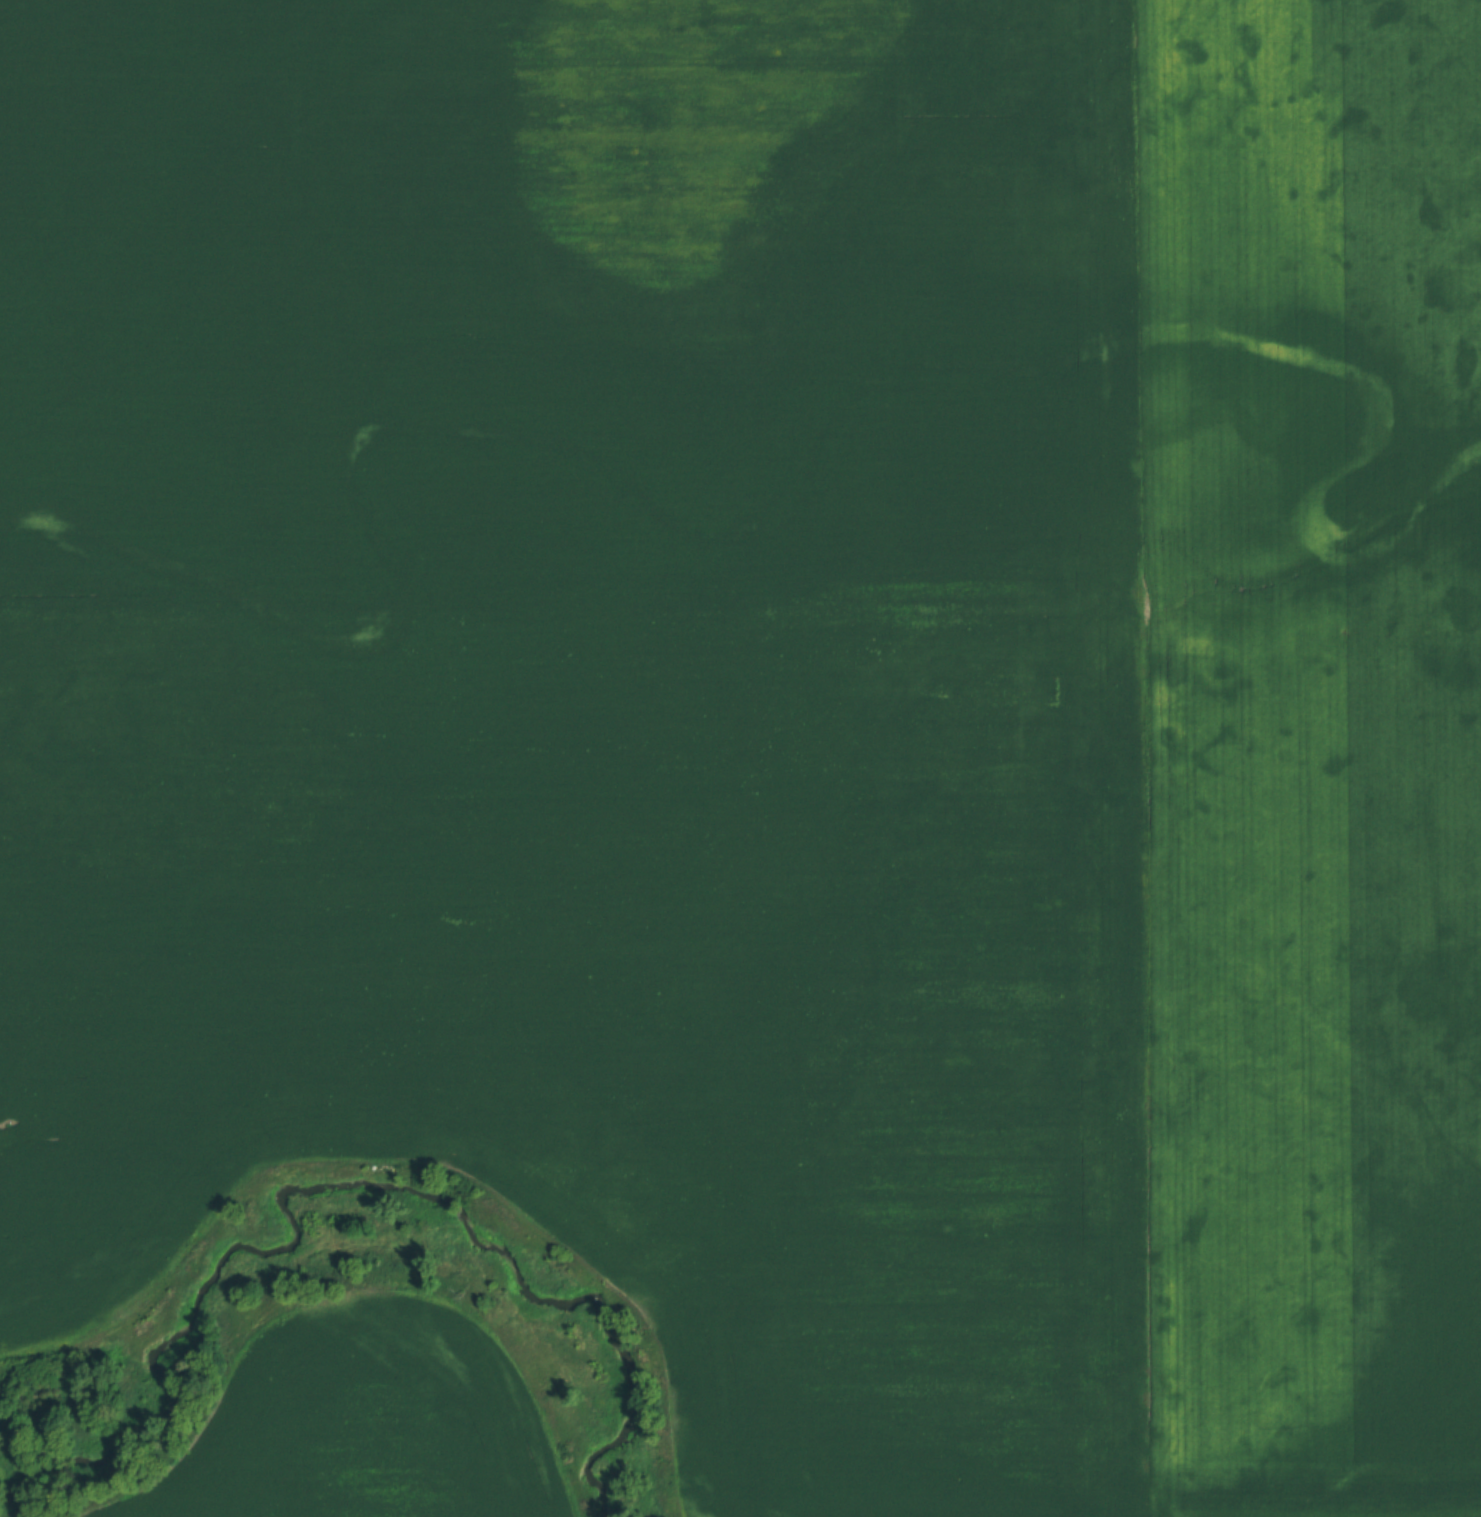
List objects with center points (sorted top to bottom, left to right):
river: (334, 1200)

